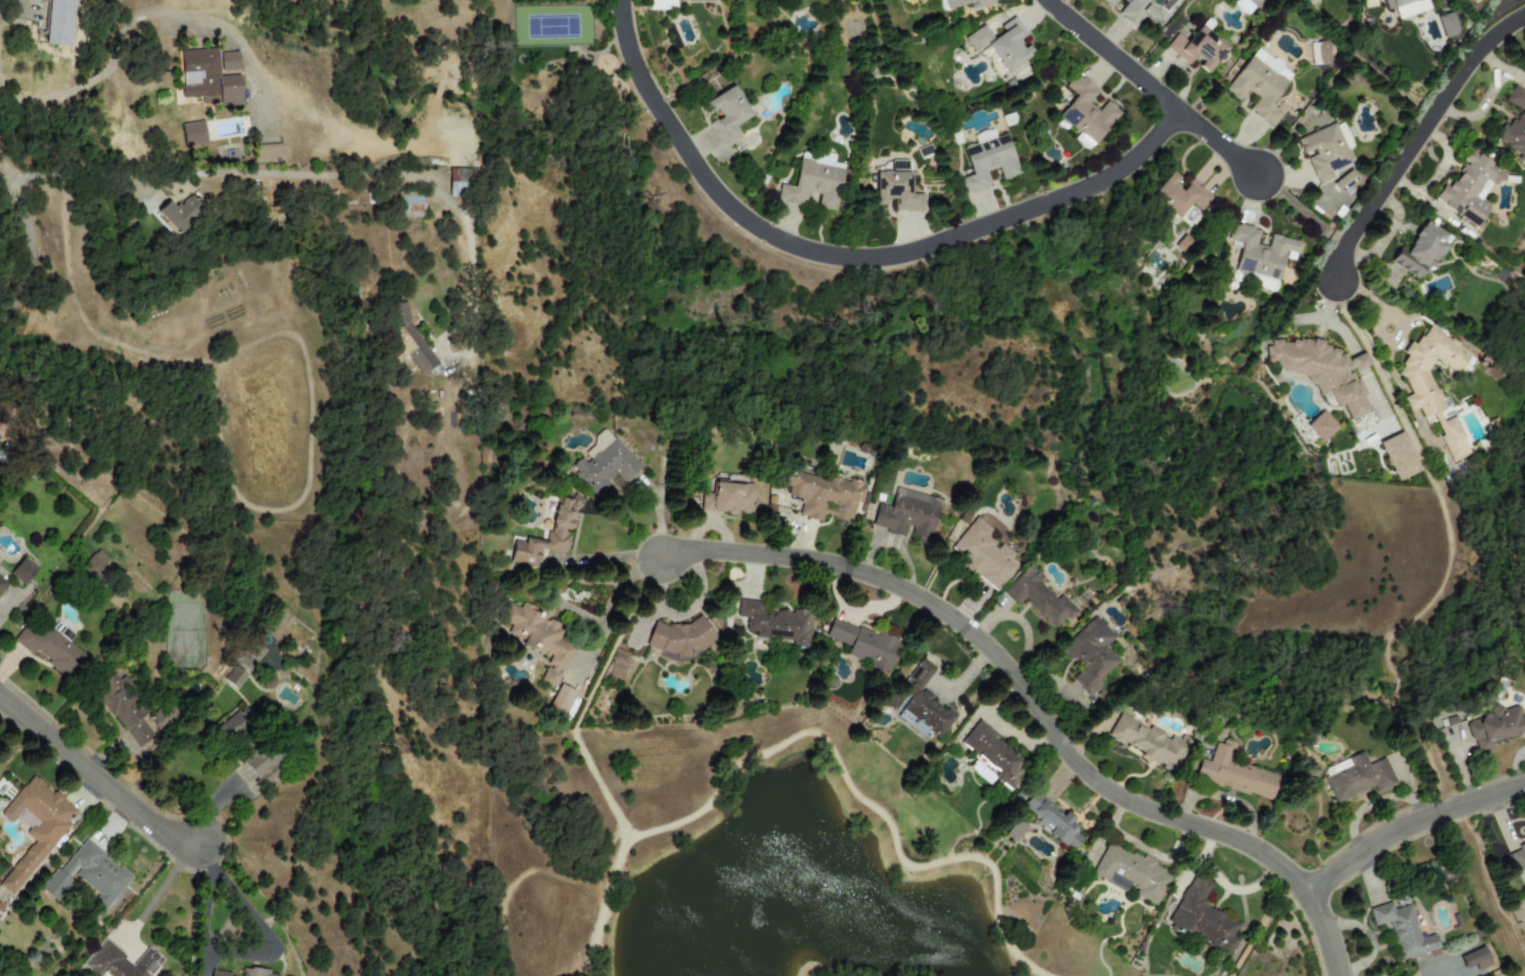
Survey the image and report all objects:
building: (1107, 1)
building: (961, 4)
building: (661, 5)
building: (1242, 6)
building: (1405, 6)
building: (1131, 11)
building: (1150, 12)
road: (149, 14)
building: (59, 23)
building: (1446, 25)
building: (1001, 43)
building: (1196, 48)
building: (1319, 53)
building: (228, 61)
road: (93, 80)
building: (205, 80)
building: (1260, 85)
road: (1151, 89)
road: (41, 97)
building: (727, 113)
building: (1086, 113)
building: (1515, 124)
building: (193, 134)
road: (1416, 137)
building: (1323, 152)
building: (267, 153)
building: (987, 163)
road: (327, 174)
building: (813, 182)
building: (457, 183)
building: (896, 187)
building: (1469, 187)
building: (1177, 196)
building: (409, 211)
building: (180, 213)
road: (27, 250)
building: (1418, 251)
building: (1260, 252)
road: (847, 254)
road: (1382, 319)
building: (406, 337)
road: (1389, 363)
building: (1322, 371)
building: (1433, 384)
building: (1321, 426)
building: (1398, 456)
building: (602, 463)
building: (823, 496)
building: (728, 498)
building: (907, 514)
building: (546, 535)
building: (984, 555)
road: (610, 557)
building: (96, 564)
building: (23, 571)
building: (2, 584)
building: (1038, 597)
building: (771, 622)
building: (539, 638)
building: (681, 638)
building: (865, 646)
building: (1090, 655)
building: (234, 677)
building: (560, 699)
building: (922, 704)
road: (1037, 707)
building: (124, 710)
building: (1496, 726)
building: (1148, 742)
building: (993, 754)
road: (750, 759)
building: (263, 765)
building: (1234, 773)
building: (1356, 776)
road: (106, 783)
road: (212, 806)
building: (1053, 821)
building: (35, 826)
road: (1408, 826)
building: (1015, 830)
building: (1517, 862)
building: (1131, 874)
building: (88, 875)
road: (156, 893)
road: (602, 904)
building: (1201, 918)
road: (1261, 926)
building: (1403, 930)
road: (243, 955)
building: (1477, 960)
building: (119, 962)
building: (248, 973)

